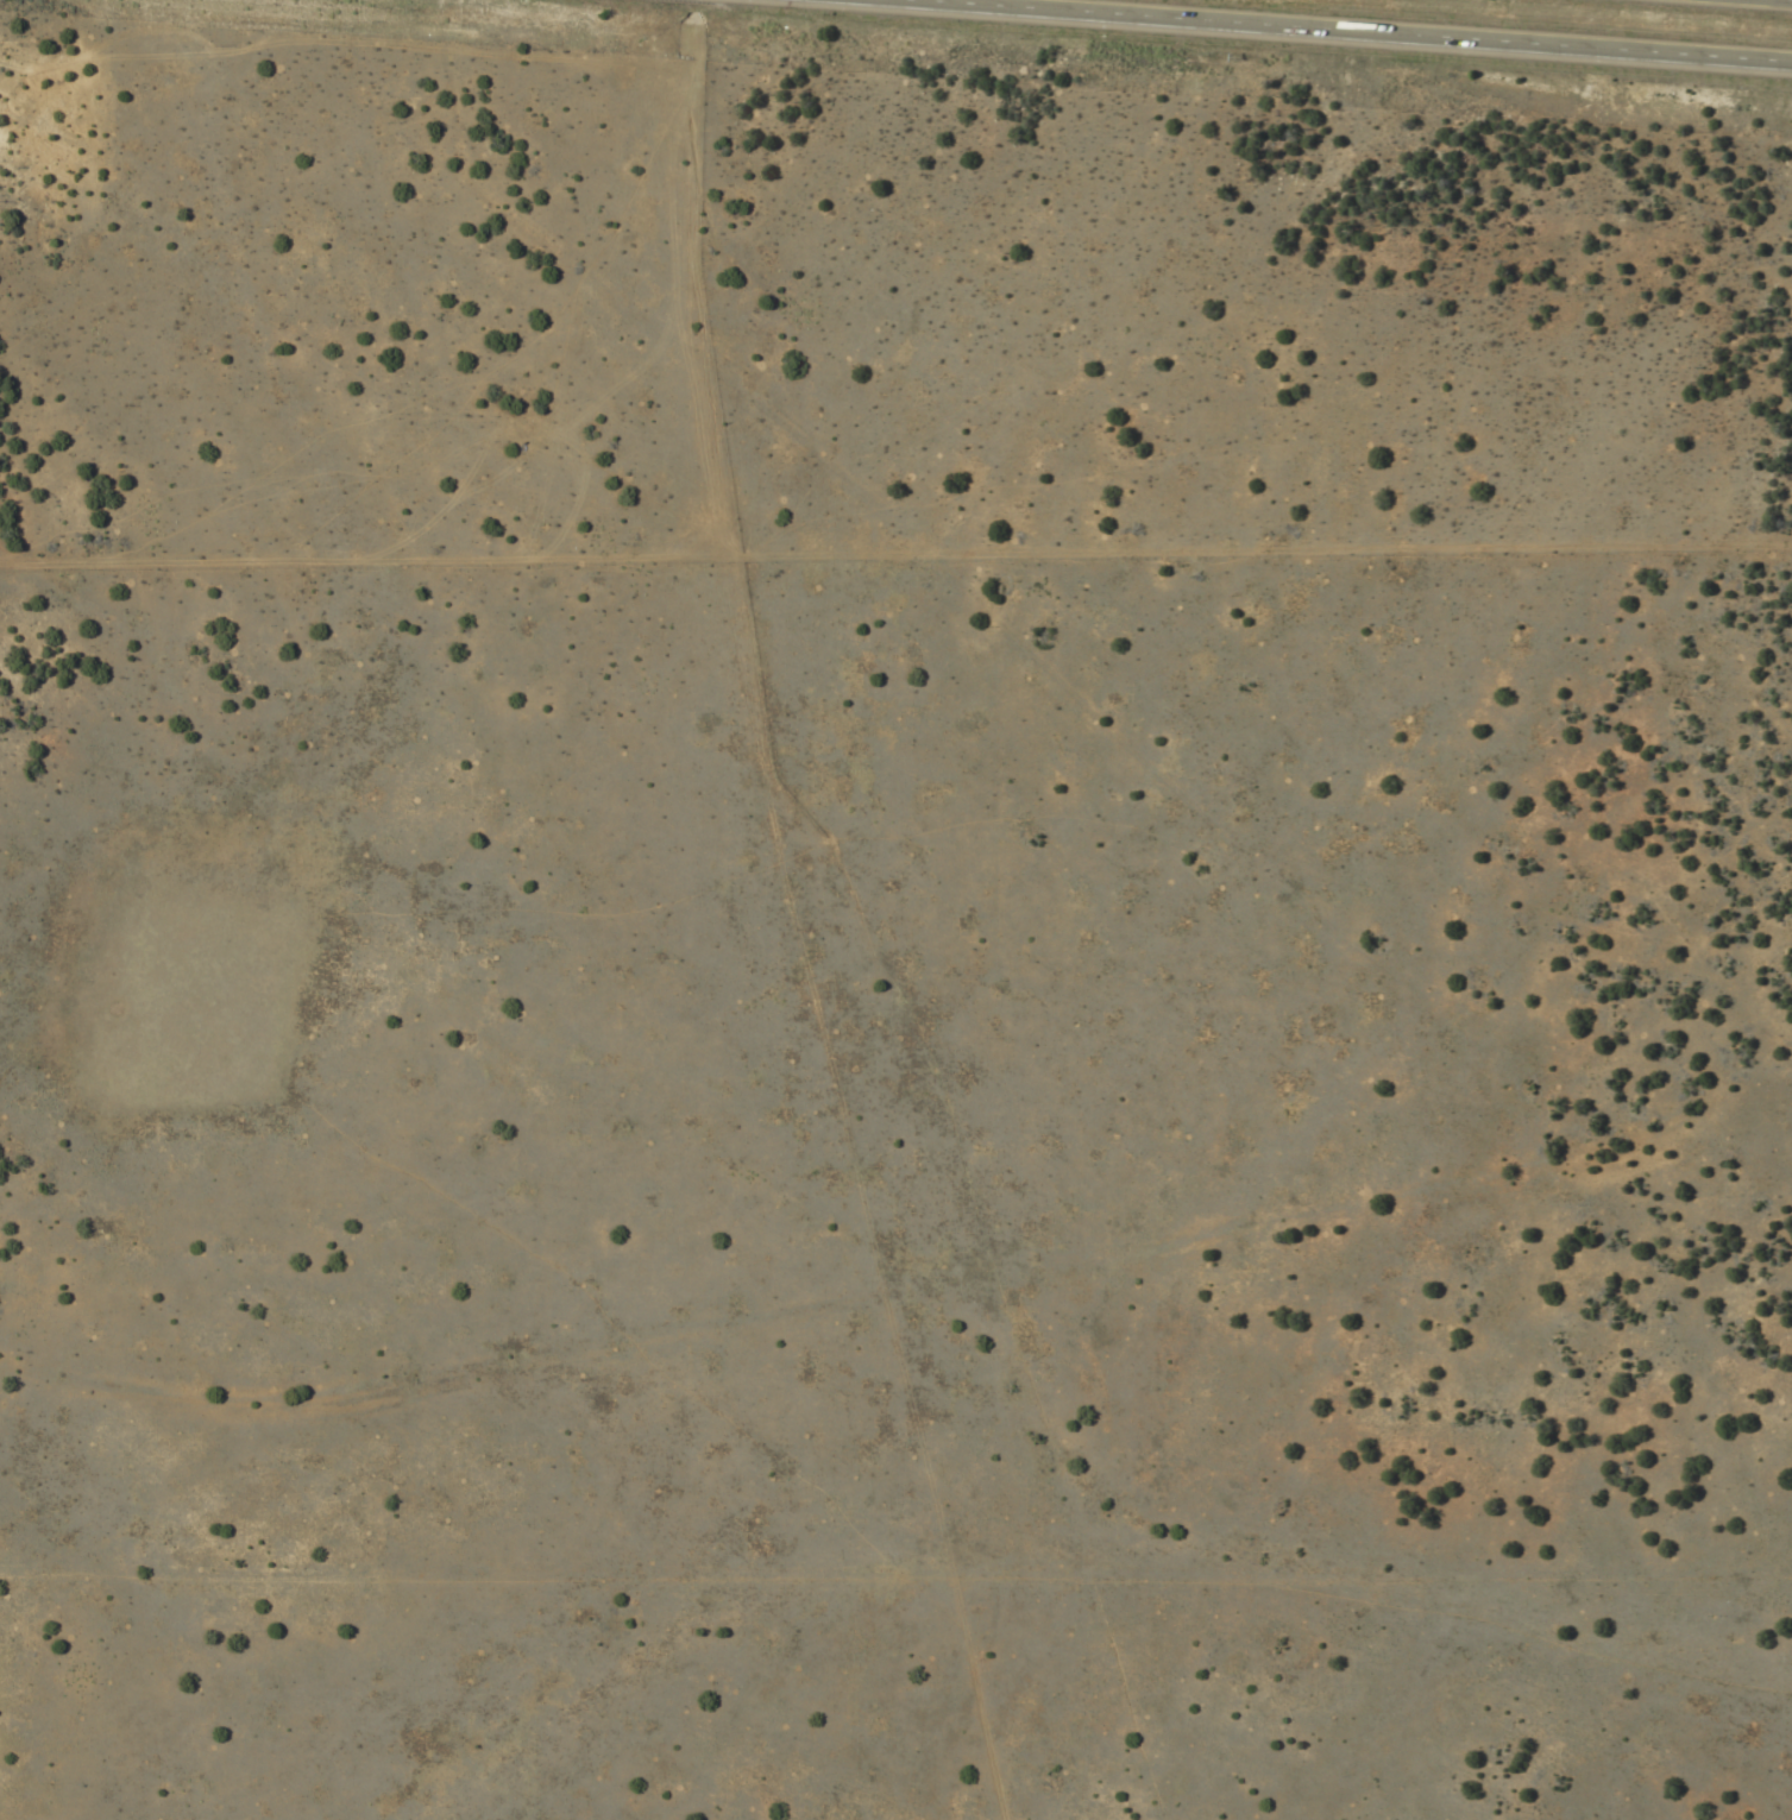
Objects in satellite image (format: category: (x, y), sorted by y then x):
road: (1753, 2)
road: (1363, 31)
building: (1729, 64)

